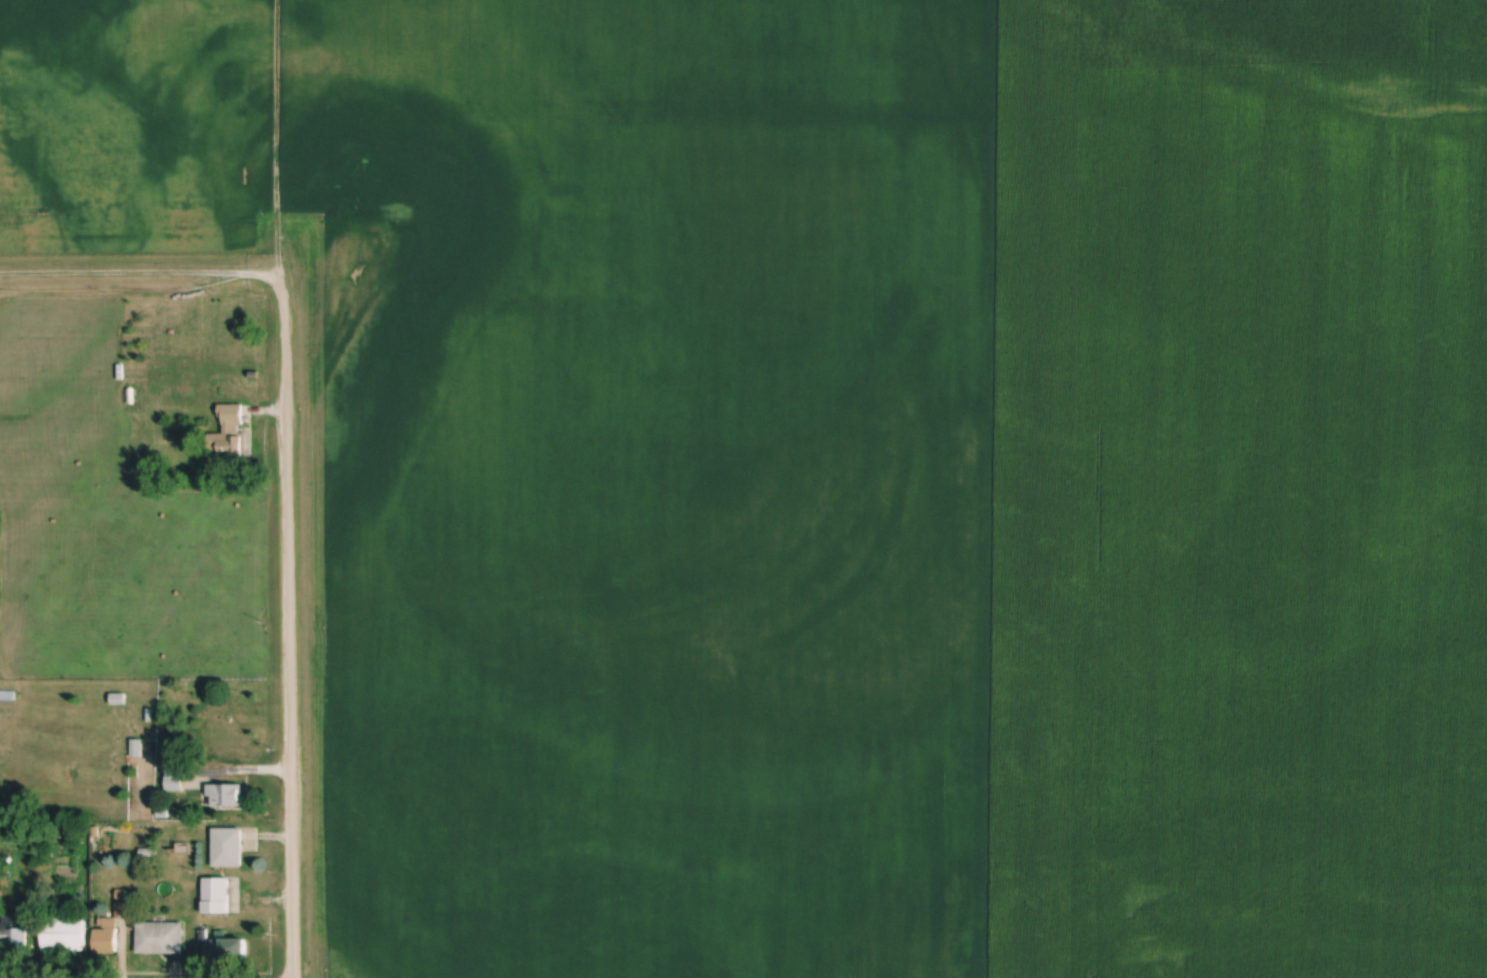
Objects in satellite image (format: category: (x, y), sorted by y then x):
road: (273, 141)
road: (139, 273)
building: (185, 388)
building: (230, 433)
road: (288, 629)
building: (8, 694)
building: (175, 780)
building: (225, 795)
building: (227, 847)
building: (216, 896)
building: (15, 933)
building: (64, 933)
building: (106, 935)
building: (161, 938)
building: (228, 950)

